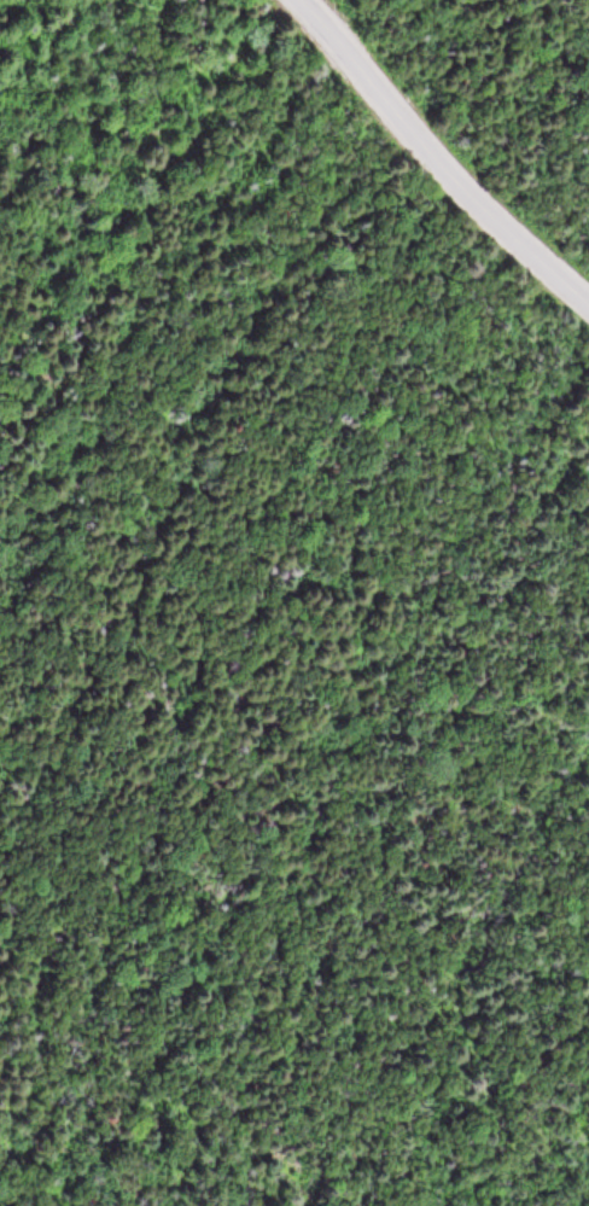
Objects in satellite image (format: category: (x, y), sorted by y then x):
road: (438, 159)

